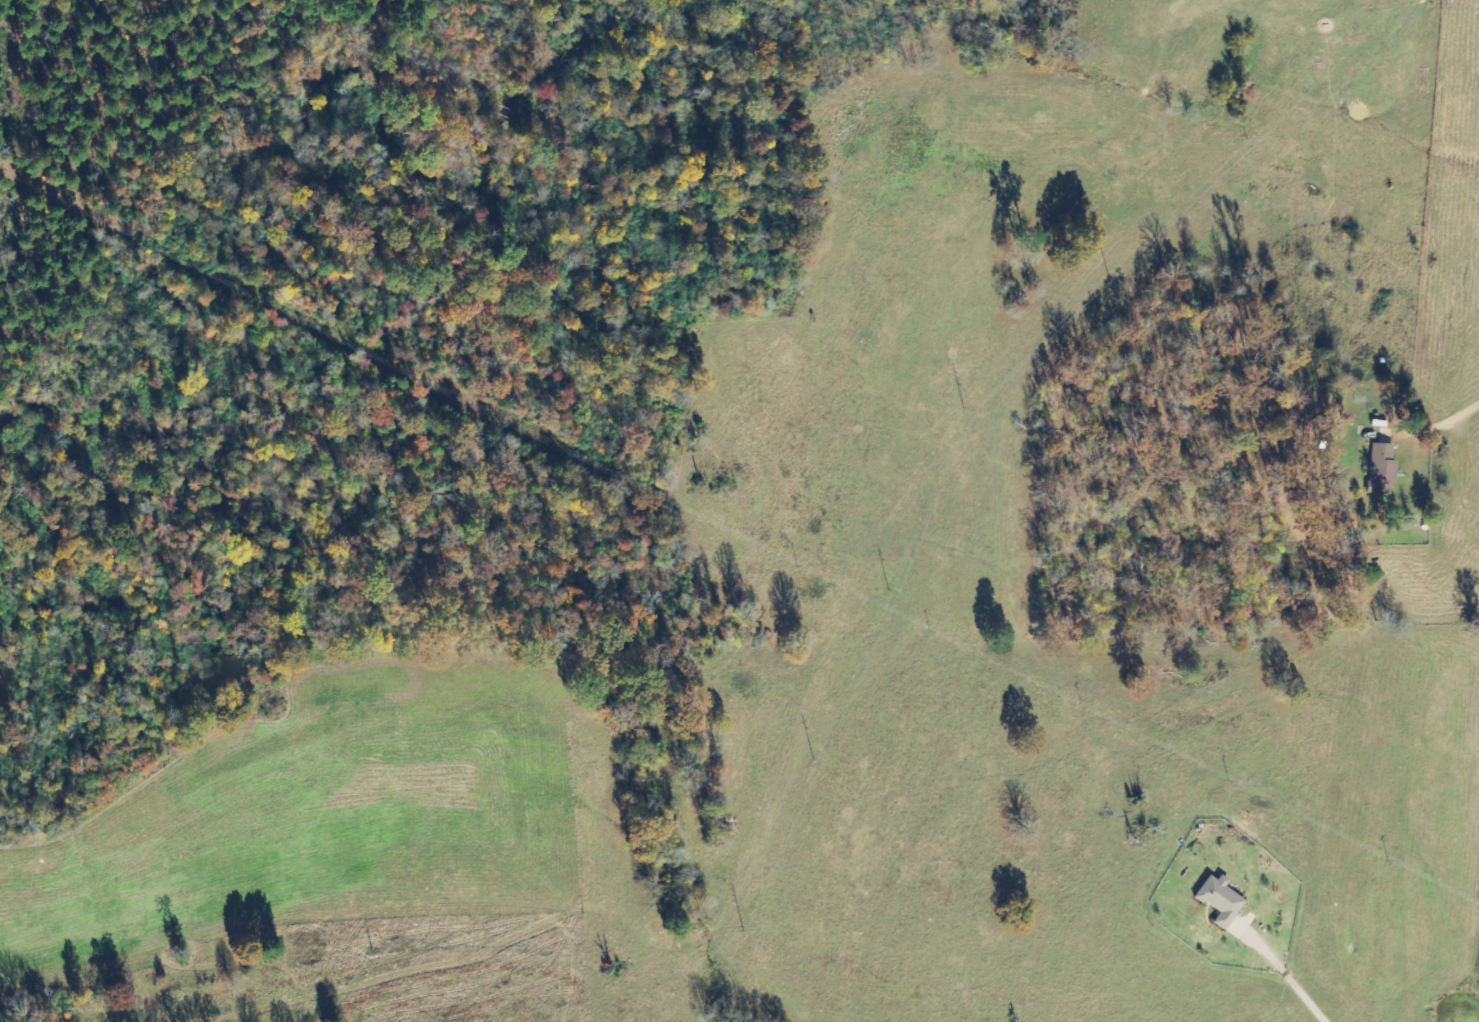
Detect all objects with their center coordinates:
road: (1454, 414)
building: (1379, 468)
building: (1217, 900)

